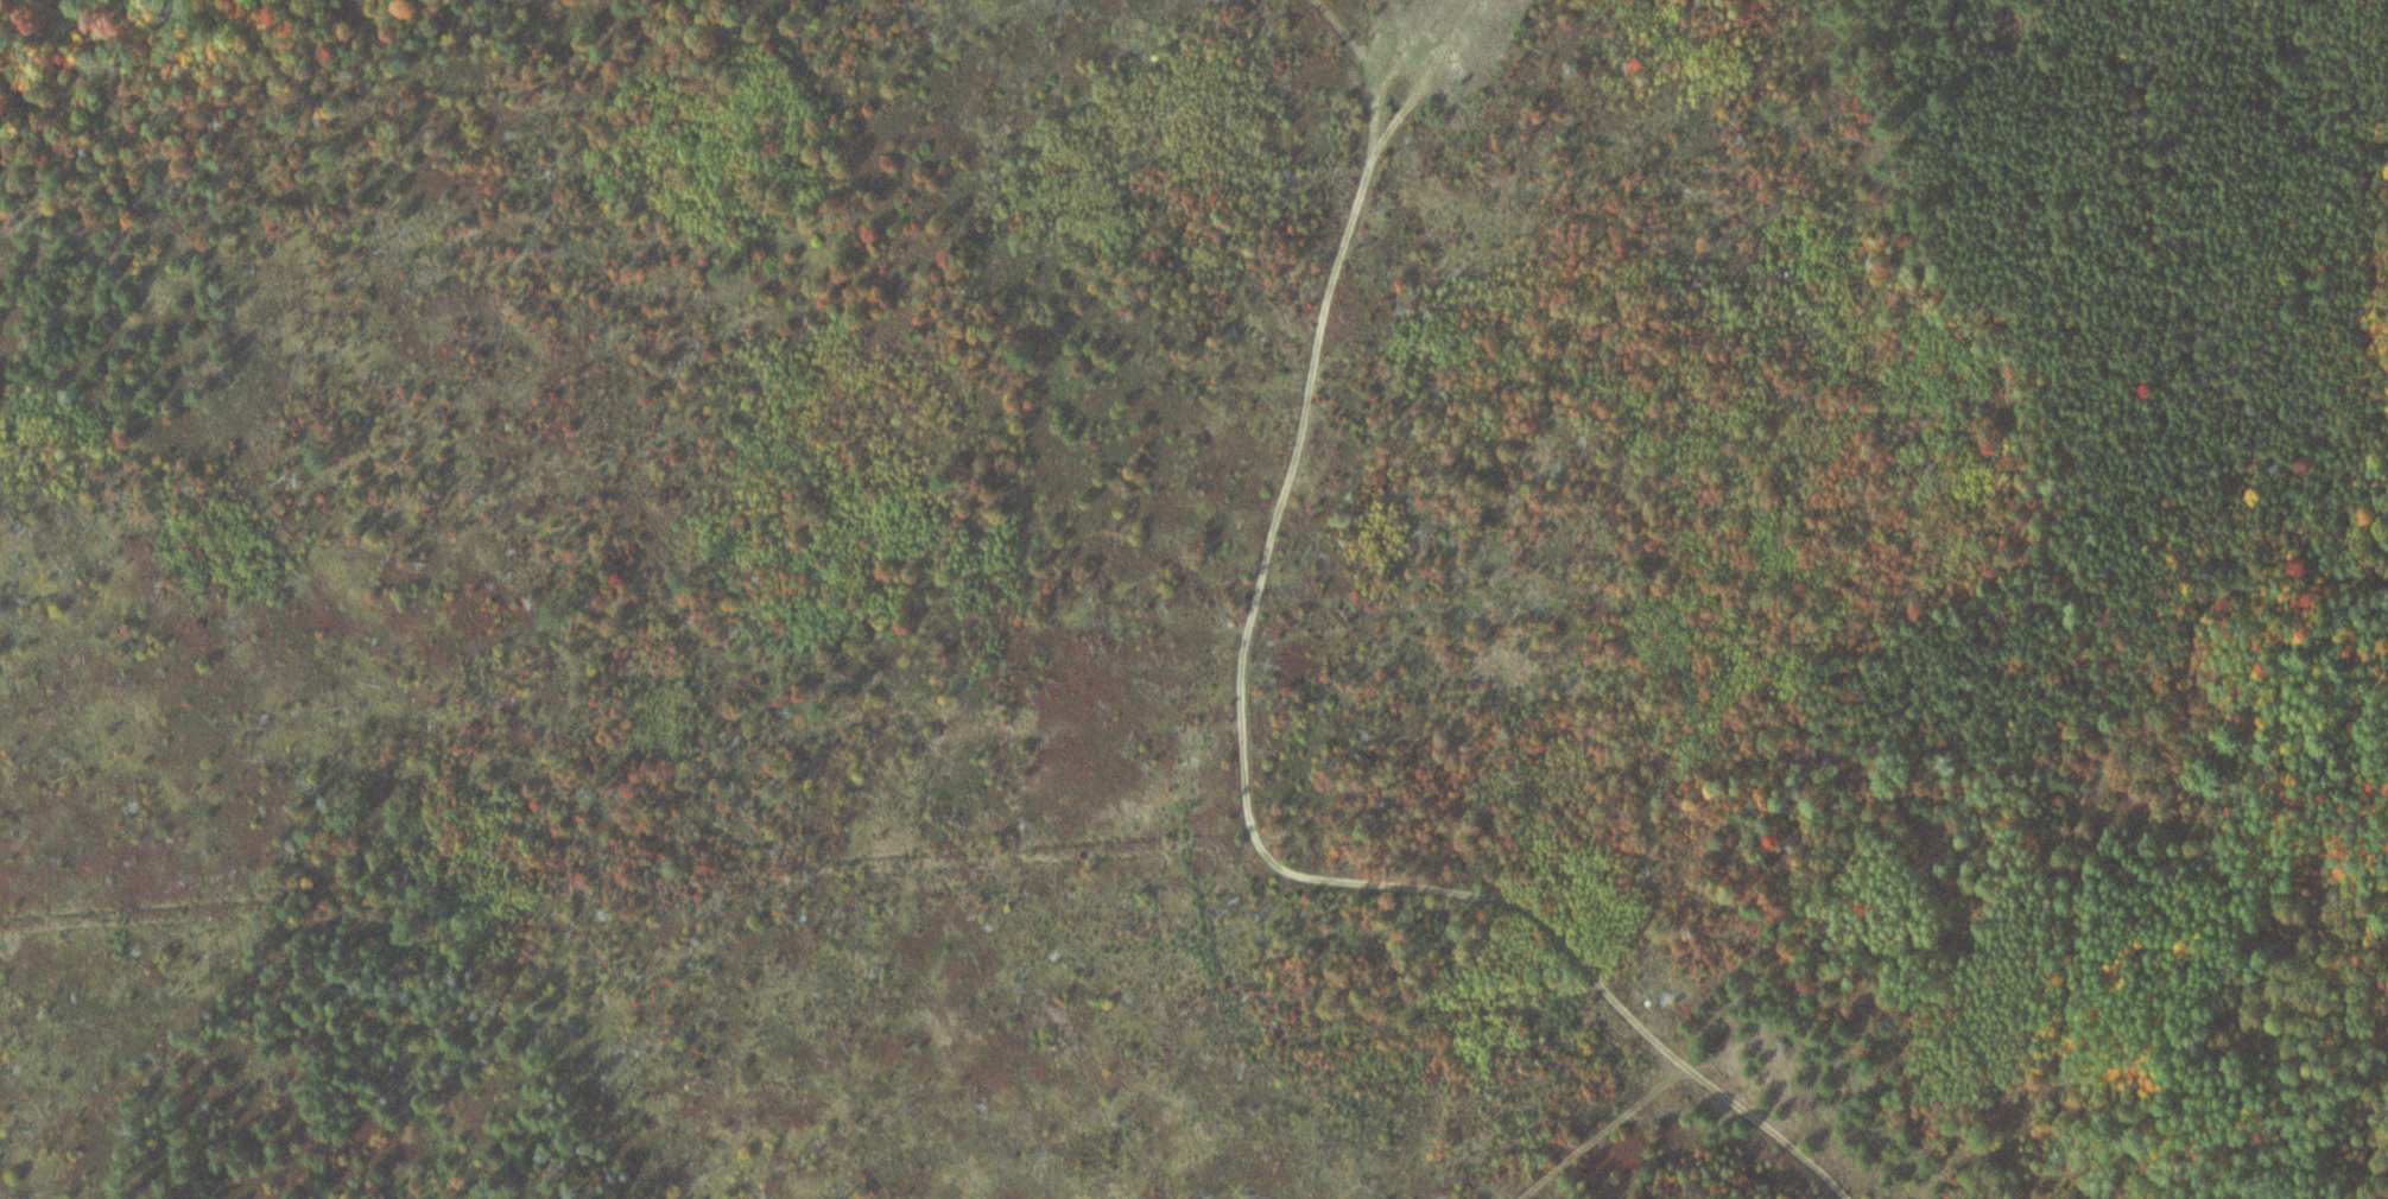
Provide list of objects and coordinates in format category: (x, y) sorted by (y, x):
road: (1320, 392)
road: (1559, 959)

